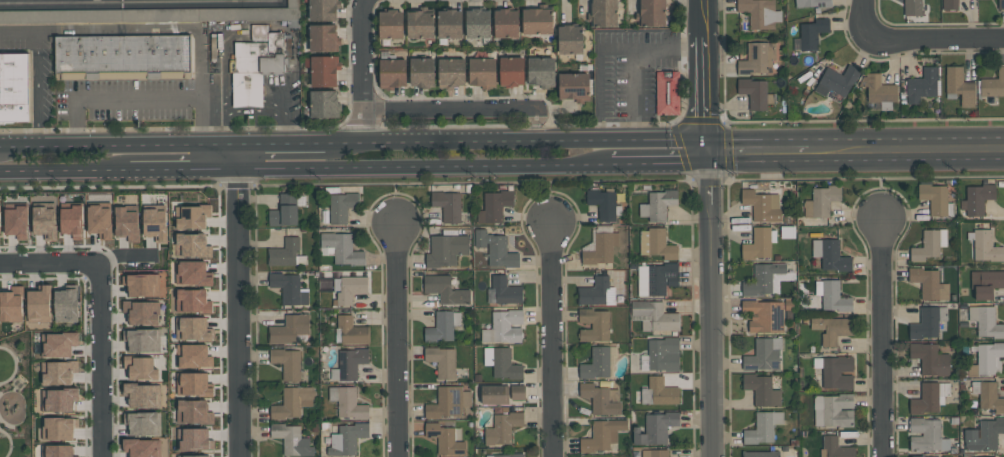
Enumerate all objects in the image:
road: (137, 2)
building: (812, 3)
building: (950, 5)
building: (913, 7)
building: (322, 10)
building: (604, 13)
building: (651, 13)
building: (760, 13)
building: (152, 14)
building: (537, 21)
building: (478, 23)
building: (506, 23)
building: (390, 24)
building: (420, 24)
building: (450, 24)
road: (174, 30)
road: (20, 33)
building: (812, 33)
building: (322, 38)
building: (570, 39)
road: (914, 40)
building: (122, 57)
building: (758, 59)
road: (630, 60)
building: (255, 64)
road: (363, 70)
building: (323, 71)
building: (511, 71)
building: (422, 72)
building: (451, 72)
building: (482, 72)
building: (541, 72)
building: (392, 73)
road: (39, 79)
building: (836, 83)
building: (993, 84)
building: (923, 85)
building: (959, 86)
building: (14, 87)
building: (573, 87)
building: (880, 89)
building: (667, 93)
building: (756, 93)
road: (116, 101)
road: (247, 102)
building: (324, 104)
road: (449, 112)
road: (208, 114)
road: (284, 116)
road: (216, 118)
road: (537, 126)
road: (38, 136)
road: (465, 140)
road: (281, 143)
road: (118, 144)
road: (657, 148)
road: (758, 148)
road: (906, 148)
traffic signals: (709, 149)
road: (424, 165)
road: (183, 168)
road: (64, 170)
building: (935, 198)
building: (977, 198)
building: (821, 200)
building: (602, 203)
building: (657, 204)
building: (447, 205)
building: (494, 205)
building: (761, 205)
building: (341, 206)
building: (284, 210)
building: (0, 214)
building: (191, 216)
building: (71, 219)
building: (15, 220)
building: (99, 220)
building: (44, 222)
building: (126, 223)
building: (155, 223)
road: (709, 228)
building: (656, 243)
building: (759, 243)
building: (928, 244)
building: (191, 245)
building: (985, 246)
building: (601, 247)
building: (340, 248)
building: (495, 248)
building: (446, 249)
building: (284, 253)
building: (830, 254)
road: (119, 255)
building: (191, 273)
building: (655, 278)
building: (766, 279)
building: (986, 282)
building: (141, 283)
building: (929, 283)
building: (289, 288)
building: (348, 288)
building: (445, 289)
building: (503, 290)
building: (596, 291)
building: (830, 296)
building: (192, 300)
road: (238, 300)
building: (11, 304)
building: (65, 305)
building: (38, 306)
road: (99, 312)
building: (140, 312)
building: (653, 315)
building: (763, 315)
building: (985, 321)
building: (927, 322)
building: (594, 324)
building: (442, 326)
building: (504, 326)
building: (192, 328)
building: (831, 328)
building: (288, 329)
building: (351, 330)
road: (882, 337)
building: (141, 339)
road: (398, 340)
road: (552, 341)
building: (57, 343)
building: (663, 354)
building: (763, 354)
building: (193, 355)
building: (929, 358)
building: (987, 359)
building: (442, 361)
building: (287, 362)
building: (348, 363)
building: (599, 363)
road: (5, 364)
road: (14, 364)
building: (505, 364)
building: (140, 367)
building: (57, 371)
building: (835, 371)
building: (18, 382)
building: (192, 383)
road: (13, 388)
building: (761, 389)
road: (1, 392)
street lamp: (3, 392)
building: (659, 392)
building: (501, 393)
building: (142, 394)
park: (15, 395)
building: (929, 397)
building: (989, 397)
building: (601, 398)
building: (58, 399)
building: (448, 401)
building: (292, 402)
building: (347, 402)
building: (833, 410)
building: (193, 411)
building: (142, 423)
road: (6, 424)
building: (58, 427)
building: (502, 427)
building: (763, 427)
building: (654, 428)
building: (602, 434)
building: (983, 434)
building: (926, 435)
building: (193, 438)
building: (346, 438)
building: (445, 438)
building: (291, 439)
road: (10, 442)
street lamp: (13, 446)
building: (141, 447)
building: (834, 447)
building: (57, 451)
building: (655, 453)
building: (760, 454)
building: (192, 455)
building: (498, 455)
building: (920, 456)
building: (977, 456)

